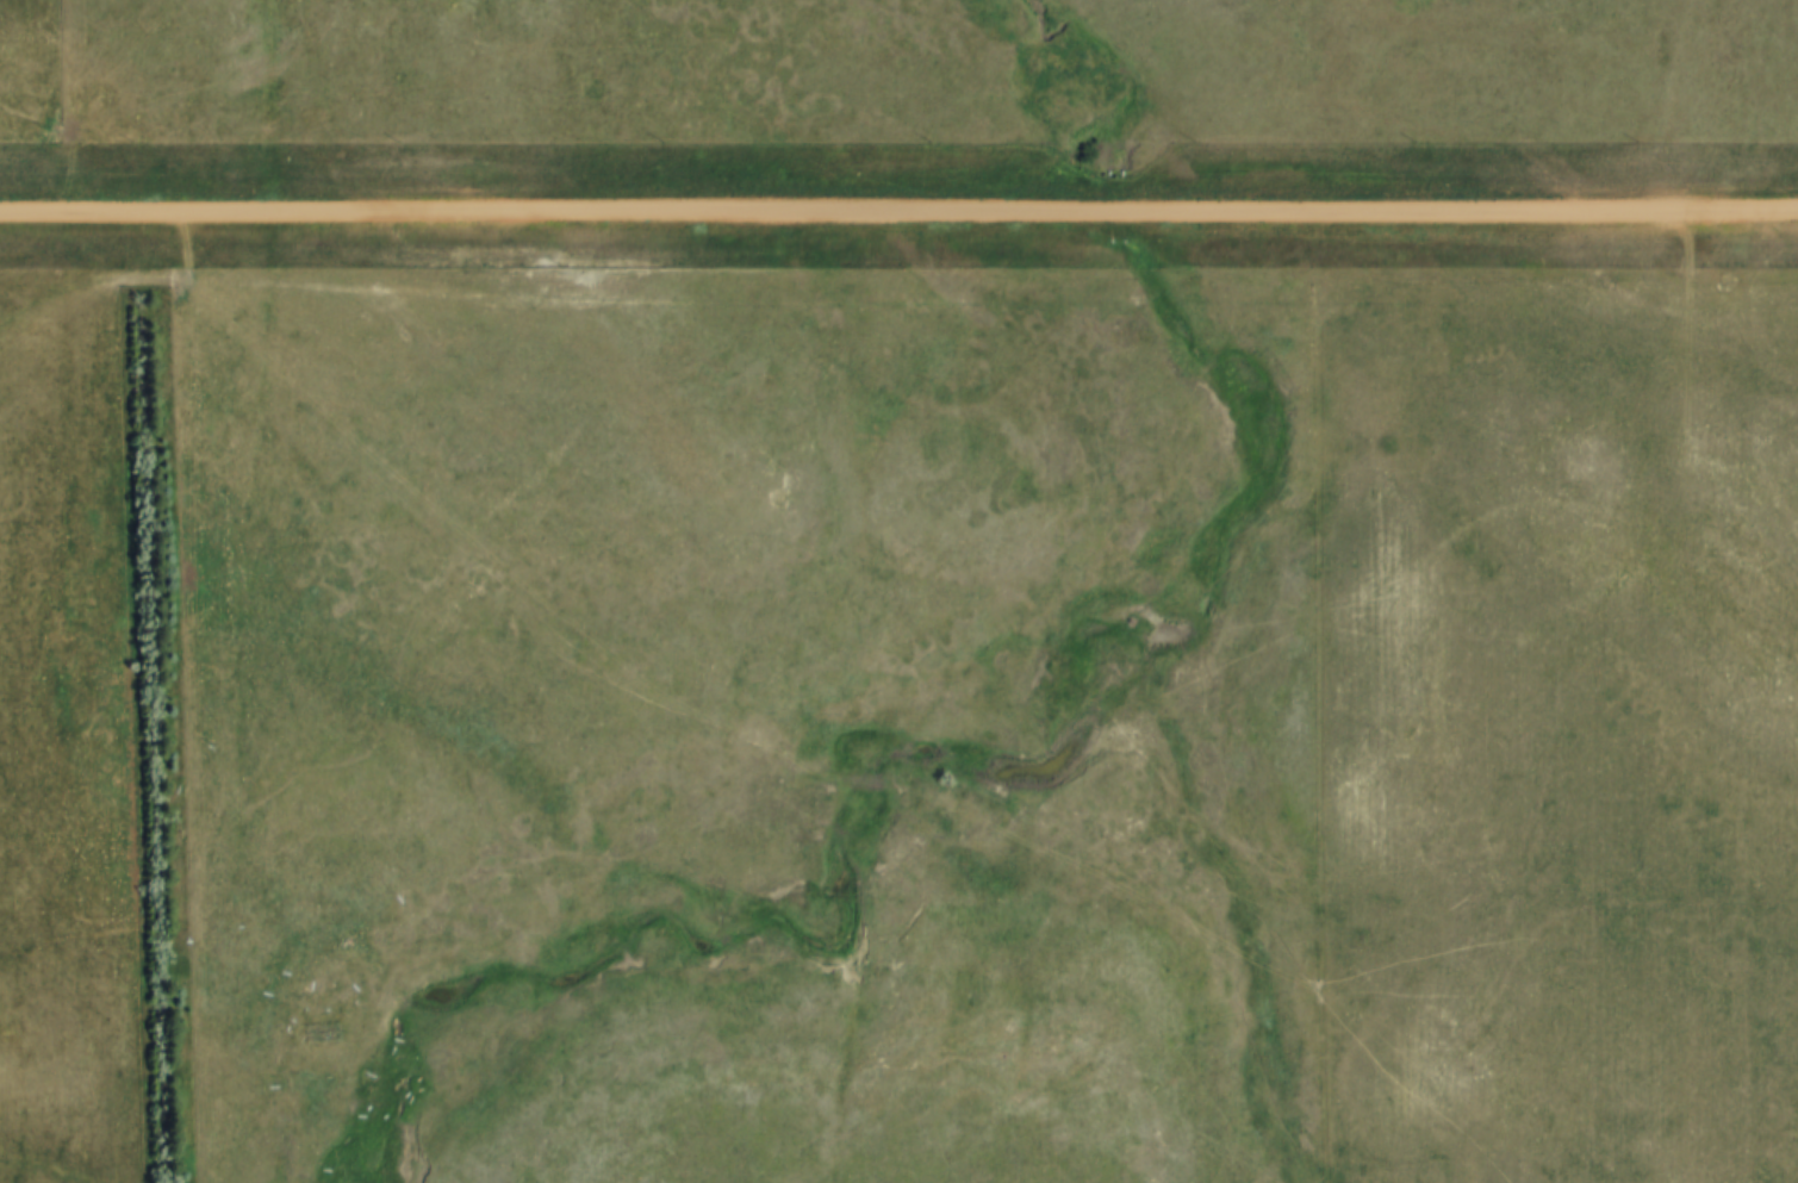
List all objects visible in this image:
road: (898, 213)

